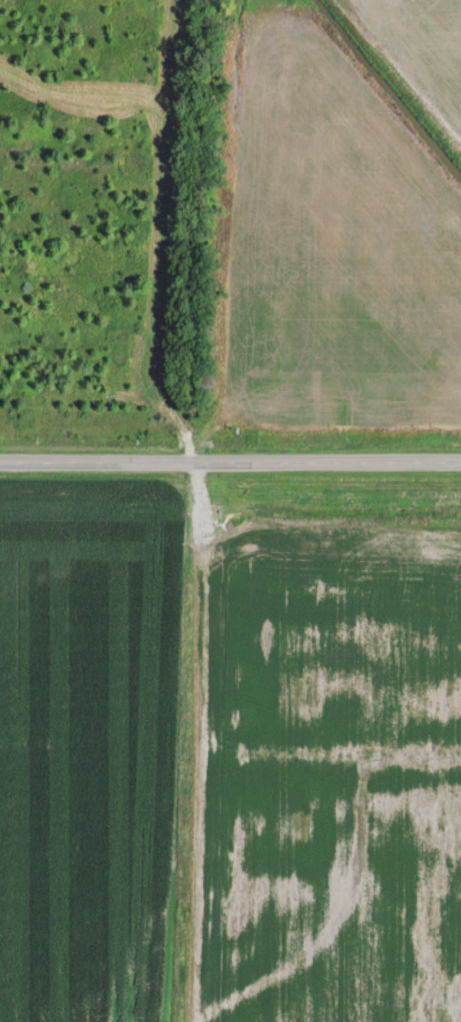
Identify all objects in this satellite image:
road: (230, 462)
road: (197, 507)

